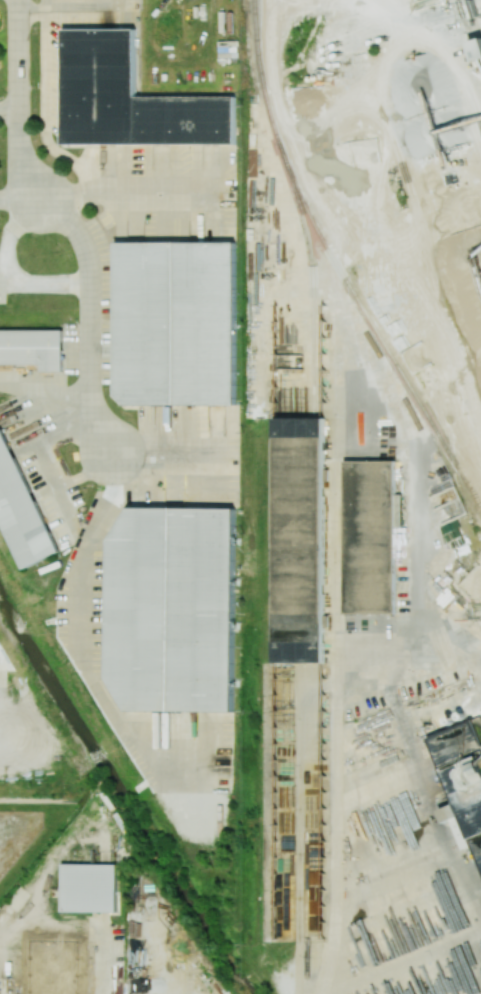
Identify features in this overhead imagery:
road: (46, 4)
road: (122, 4)
road: (71, 8)
building: (475, 21)
building: (131, 99)
road: (46, 110)
road: (9, 111)
road: (125, 190)
road: (20, 201)
road: (71, 222)
railway: (339, 266)
road: (11, 271)
building: (176, 321)
building: (32, 348)
road: (52, 468)
building: (21, 511)
building: (298, 535)
building: (373, 540)
building: (173, 609)
road: (83, 655)
building: (461, 780)
building: (92, 885)

